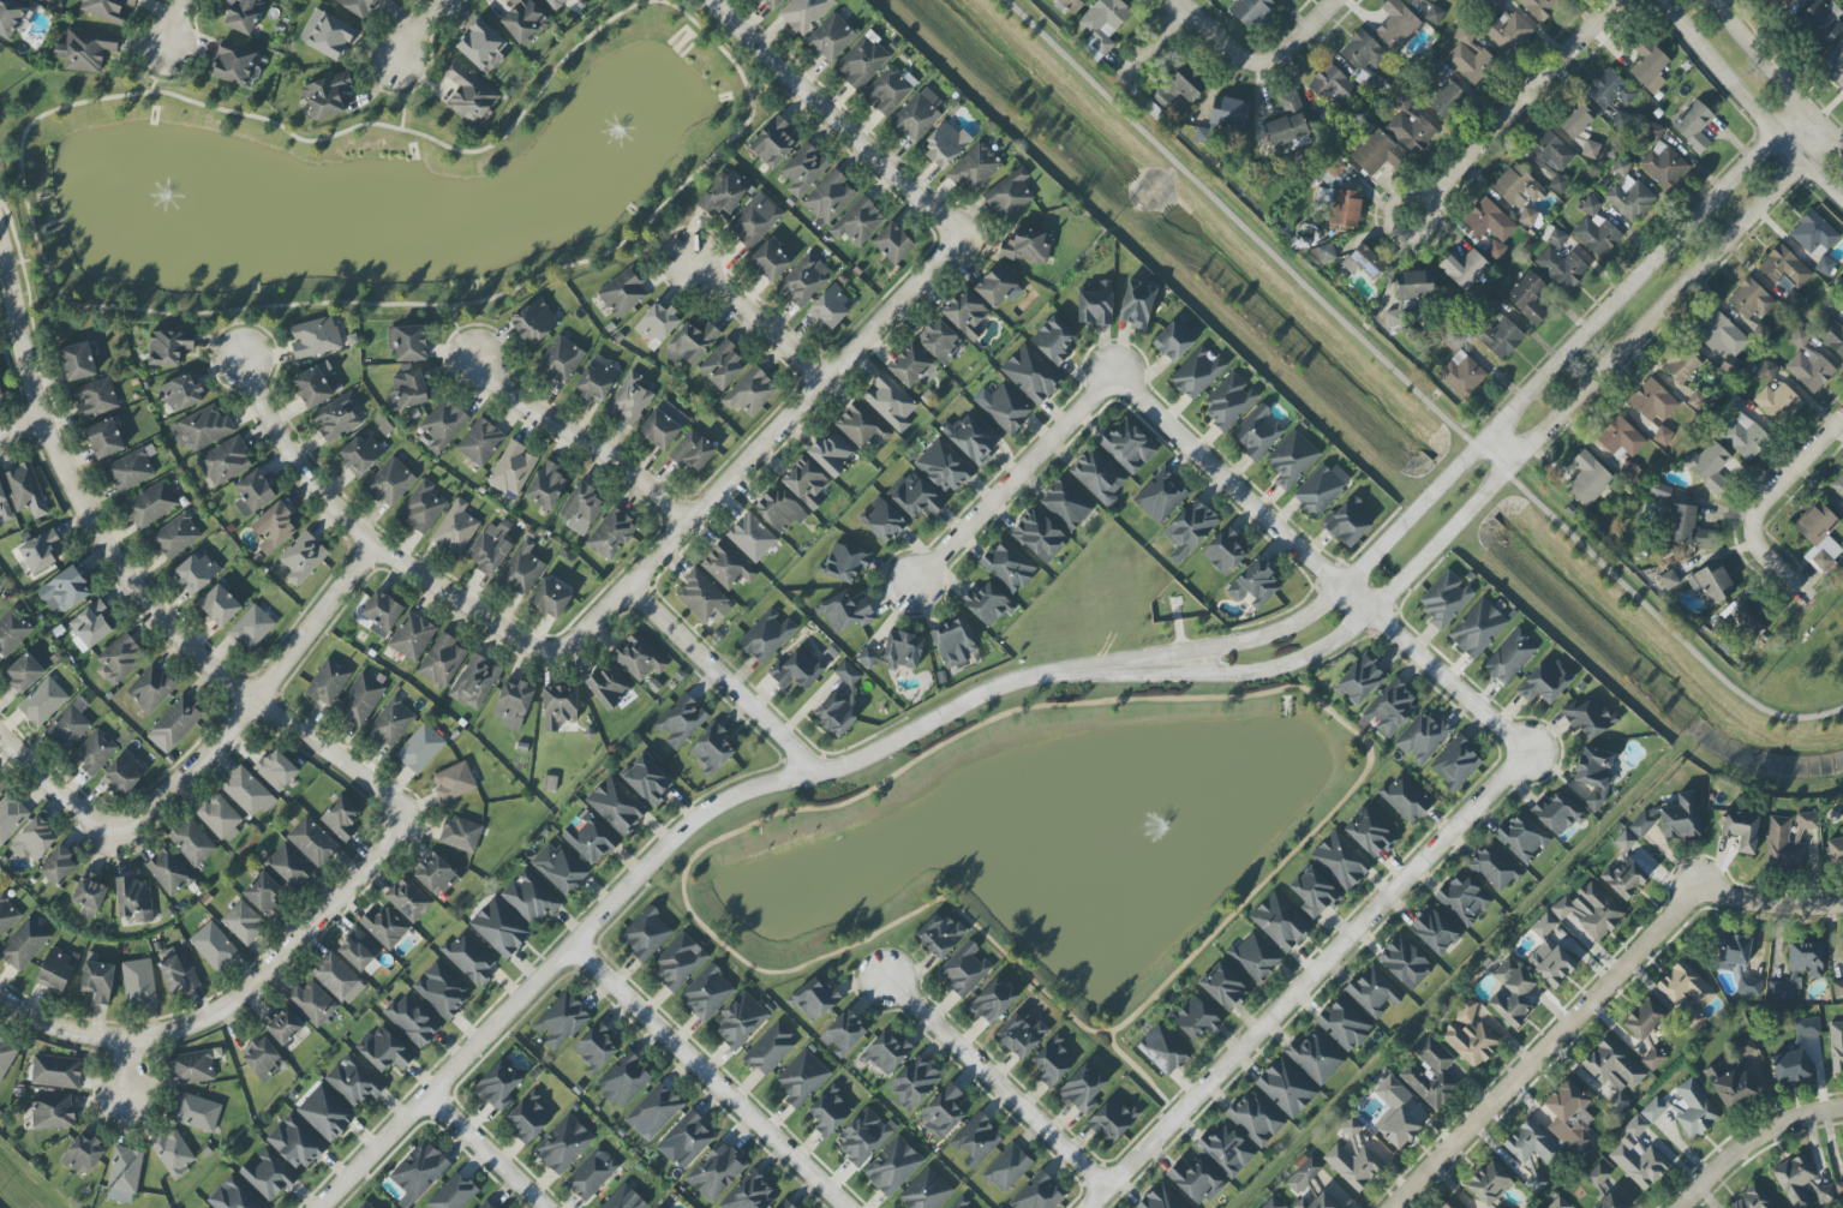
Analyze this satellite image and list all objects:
building: (42, 0)
building: (281, 0)
building: (1420, 1)
building: (555, 4)
building: (772, 4)
building: (1777, 4)
building: (1072, 5)
building: (358, 6)
building: (1539, 7)
building: (108, 10)
building: (1249, 11)
building: (804, 13)
building: (244, 14)
building: (1434, 14)
building: (11, 18)
building: (523, 20)
building: (1821, 22)
road: (175, 23)
building: (1102, 25)
building: (1398, 25)
building: (1507, 28)
road: (424, 30)
road: (1303, 34)
building: (327, 35)
building: (831, 38)
road: (1219, 38)
building: (481, 46)
building: (86, 49)
building: (1471, 58)
building: (1365, 60)
building: (862, 61)
building: (1835, 62)
building: (234, 64)
building: (1648, 65)
building: (1432, 66)
road: (160, 68)
road: (1775, 77)
building: (1332, 85)
building: (1178, 86)
road: (779, 90)
building: (890, 90)
building: (1609, 90)
road: (402, 94)
building: (469, 95)
building: (327, 96)
road: (1528, 97)
road: (1749, 103)
building: (1228, 113)
building: (918, 114)
road: (832, 116)
building: (1287, 120)
building: (1578, 122)
building: (1410, 126)
building: (1693, 126)
building: (1202, 136)
building: (772, 142)
building: (946, 145)
road: (720, 151)
building: (1376, 154)
building: (1551, 159)
building: (1663, 165)
building: (974, 168)
building: (803, 169)
building: (1332, 171)
park: (369, 184)
building: (1519, 187)
building: (724, 195)
building: (1009, 195)
building: (1628, 195)
building: (830, 197)
building: (1341, 207)
road: (1436, 207)
building: (1590, 207)
building: (754, 220)
building: (1489, 221)
building: (857, 222)
building: (1597, 234)
road: (670, 235)
building: (1814, 235)
building: (1554, 238)
building: (892, 244)
building: (1028, 246)
building: (1496, 250)
building: (1322, 253)
building: (768, 262)
building: (1364, 262)
road: (22, 263)
building: (1562, 268)
building: (1465, 269)
building: (1785, 274)
building: (803, 280)
building: (1414, 285)
building: (997, 287)
building: (623, 292)
building: (1528, 298)
building: (1751, 300)
building: (1490, 303)
building: (1096, 305)
building: (1137, 305)
building: (1829, 306)
building: (830, 309)
building: (965, 315)
building: (1394, 319)
building: (533, 321)
road: (753, 321)
building: (658, 323)
building: (1761, 331)
road: (235, 333)
building: (1831, 335)
road: (460, 336)
building: (1721, 336)
building: (315, 337)
building: (1175, 339)
building: (1500, 339)
building: (1800, 339)
building: (1053, 341)
building: (407, 342)
building: (940, 342)
building: (690, 343)
building: (168, 347)
building: (561, 360)
building: (77, 361)
building: (1683, 364)
building: (723, 367)
building: (912, 367)
building: (1808, 370)
building: (1767, 371)
building: (1197, 372)
building: (1031, 375)
building: (1462, 375)
building: (596, 382)
building: (313, 385)
road: (1412, 385)
building: (408, 390)
building: (750, 391)
building: (182, 393)
building: (1, 395)
building: (95, 397)
building: (629, 400)
building: (1228, 401)
building: (1653, 401)
building: (890, 402)
building: (1777, 402)
building: (1003, 407)
building: (337, 418)
building: (663, 425)
building: (441, 426)
building: (861, 426)
road: (20, 429)
building: (202, 430)
building: (1257, 432)
building: (1743, 433)
road: (587, 435)
building: (1662, 436)
building: (104, 438)
building: (1620, 438)
building: (973, 439)
building: (480, 442)
building: (1127, 447)
road: (1508, 447)
road: (755, 448)
building: (692, 451)
building: (360, 454)
building: (831, 454)
building: (1292, 460)
building: (225, 461)
road: (1472, 461)
building: (944, 467)
building: (1711, 467)
building: (513, 470)
building: (130, 471)
building: (1628, 471)
building: (1097, 477)
building: (1588, 479)
road: (1012, 480)
building: (390, 482)
building: (806, 483)
road: (1788, 483)
building: (546, 486)
building: (1838, 486)
building: (25, 490)
building: (1321, 490)
building: (1659, 491)
building: (253, 494)
road: (1488, 495)
building: (915, 496)
building: (1160, 496)
building: (151, 504)
building: (1066, 504)
building: (4, 506)
building: (423, 508)
building: (582, 509)
building: (778, 510)
building: (882, 521)
building: (1348, 522)
building: (274, 527)
building: (456, 528)
building: (1687, 528)
building: (1189, 530)
building: (611, 534)
road: (361, 536)
building: (1040, 536)
building: (175, 537)
building: (752, 538)
building: (1819, 538)
building: (491, 548)
building: (40, 551)
building: (1223, 551)
building: (303, 558)
building: (845, 563)
road: (1322, 563)
building: (726, 567)
building: (1009, 567)
building: (521, 569)
building: (196, 573)
road: (1791, 573)
road: (127, 576)
building: (1669, 580)
building: (1712, 582)
building: (1253, 584)
building: (64, 591)
building: (550, 598)
building: (704, 598)
building: (1444, 599)
building: (987, 604)
building: (220, 605)
building: (844, 612)
building: (382, 614)
building: (1752, 618)
building: (90, 626)
building: (252, 627)
building: (1478, 629)
building: (12, 632)
building: (412, 636)
building: (766, 636)
building: (953, 642)
building: (894, 652)
park: (1809, 656)
building: (639, 657)
building: (1509, 657)
building: (120, 659)
building: (442, 660)
building: (797, 668)
building: (28, 670)
building: (846, 674)
road: (725, 680)
building: (1360, 681)
building: (328, 682)
building: (475, 682)
building: (1544, 682)
building: (609, 686)
building: (151, 688)
road: (256, 699)
building: (360, 700)
building: (42, 702)
building: (513, 705)
building: (558, 706)
building: (1390, 710)
building: (836, 711)
building: (1590, 716)
building: (681, 720)
building: (391, 723)
building: (175, 724)
building: (67, 728)
building: (1423, 738)
building: (420, 748)
building: (712, 748)
building: (94, 753)
building: (1456, 764)
building: (276, 770)
building: (122, 775)
building: (1594, 775)
building: (646, 781)
building: (454, 782)
road: (54, 788)
building: (1, 789)
building: (246, 791)
building: (1405, 799)
building: (617, 806)
park: (1057, 807)
building: (1556, 814)
building: (11, 817)
building: (220, 818)
building: (341, 818)
building: (1679, 818)
building: (1807, 820)
building: (1642, 824)
building: (1741, 829)
building: (1370, 833)
building: (460, 835)
building: (588, 838)
building: (1522, 838)
building: (34, 841)
building: (1624, 841)
building: (192, 842)
building: (312, 842)
building: (1782, 845)
building: (1835, 851)
building: (1340, 861)
building: (58, 866)
building: (288, 867)
building: (558, 868)
road: (644, 868)
building: (1494, 868)
building: (169, 872)
building: (436, 875)
building: (1624, 878)
building: (1315, 892)
building: (89, 895)
building: (264, 895)
building: (529, 897)
building: (134, 899)
building: (408, 899)
building: (1462, 899)
road: (1238, 907)
building: (1590, 910)
building: (7, 916)
building: (243, 922)
building: (1280, 922)
building: (1544, 926)
building: (384, 927)
building: (499, 928)
building: (1434, 931)
building: (940, 933)
building: (646, 934)
building: (1842, 941)
building: (24, 945)
building: (214, 946)
building: (1734, 950)
building: (359, 951)
road: (280, 957)
building: (1255, 957)
building: (469, 958)
building: (678, 962)
building: (1405, 963)
building: (1552, 965)
building: (58, 969)
building: (964, 969)
building: (1797, 969)
building: (179, 973)
building: (337, 979)
building: (98, 981)
road: (1310, 981)
building: (138, 982)
building: (1686, 986)
building: (1223, 987)
building: (1837, 988)
building: (442, 991)
building: (1372, 992)
building: (707, 993)
building: (1510, 993)
building: (814, 999)
building: (993, 1000)
road: (1600, 1001)
building: (312, 1004)
building: (1693, 1017)
building: (1195, 1018)
building: (740, 1019)
building: (1644, 1019)
building: (412, 1021)
building: (561, 1021)
building: (1344, 1024)
building: (282, 1025)
building: (1807, 1027)
road: (85, 1034)
building: (844, 1034)
building: (1021, 1034)
building: (1470, 1036)
building: (1836, 1046)
building: (1745, 1047)
building: (596, 1048)
building: (770, 1049)
building: (1162, 1049)
building: (385, 1051)
building: (886, 1053)
building: (6, 1055)
building: (1315, 1058)
building: (263, 1059)
building: (1653, 1059)
building: (1053, 1062)
building: (193, 1066)
building: (1790, 1066)
building: (1430, 1071)
building: (56, 1072)
building: (1614, 1072)
road: (1143, 1074)
road: (708, 1077)
building: (802, 1077)
building: (354, 1081)
building: (624, 1081)
building: (914, 1083)
road: (999, 1084)
building: (498, 1086)
building: (1083, 1087)
building: (1730, 1087)
building: (1286, 1088)
building: (1693, 1108)
building: (1653, 1110)
building: (53, 1112)
building: (196, 1112)
building: (653, 1112)
building: (830, 1112)
building: (941, 1112)
building: (325, 1113)
building: (1395, 1113)
building: (1568, 1117)
building: (529, 1118)
building: (1112, 1119)
building: (1256, 1119)
road: (1749, 1135)
building: (863, 1136)
building: (688, 1138)
building: (975, 1142)
building: (295, 1143)
building: (563, 1144)
building: (1532, 1144)
building: (1226, 1150)
building: (173, 1153)
building: (84, 1154)
road: (484, 1154)
building: (1638, 1156)
building: (1352, 1158)
building: (892, 1166)
building: (1007, 1168)
building: (125, 1171)
building: (716, 1171)
building: (418, 1172)
building: (592, 1173)
building: (1304, 1176)
building: (1597, 1176)
building: (268, 1177)
building: (1795, 1180)
building: (1196, 1182)
building: (1536, 1183)
building: (1489, 1184)
building: (926, 1191)
building: (453, 1194)
building: (749, 1194)
building: (1039, 1194)
building: (1824, 1195)
building: (234, 1196)
building: (624, 1198)
building: (1161, 1198)
building: (1753, 1200)
building: (1318, 1202)
building: (1609, 1202)
building: (1271, 1203)
building: (1558, 1203)
building: (486, 1204)
building: (785, 1204)
building: (959, 1204)
building: (1449, 1204)
building: (365, 1206)

